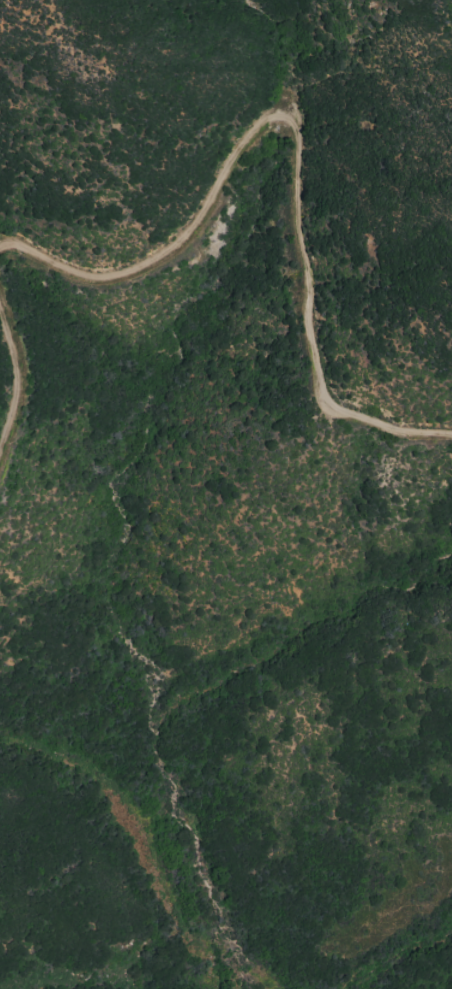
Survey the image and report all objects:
road: (300, 145)
road: (15, 381)
road: (403, 969)

